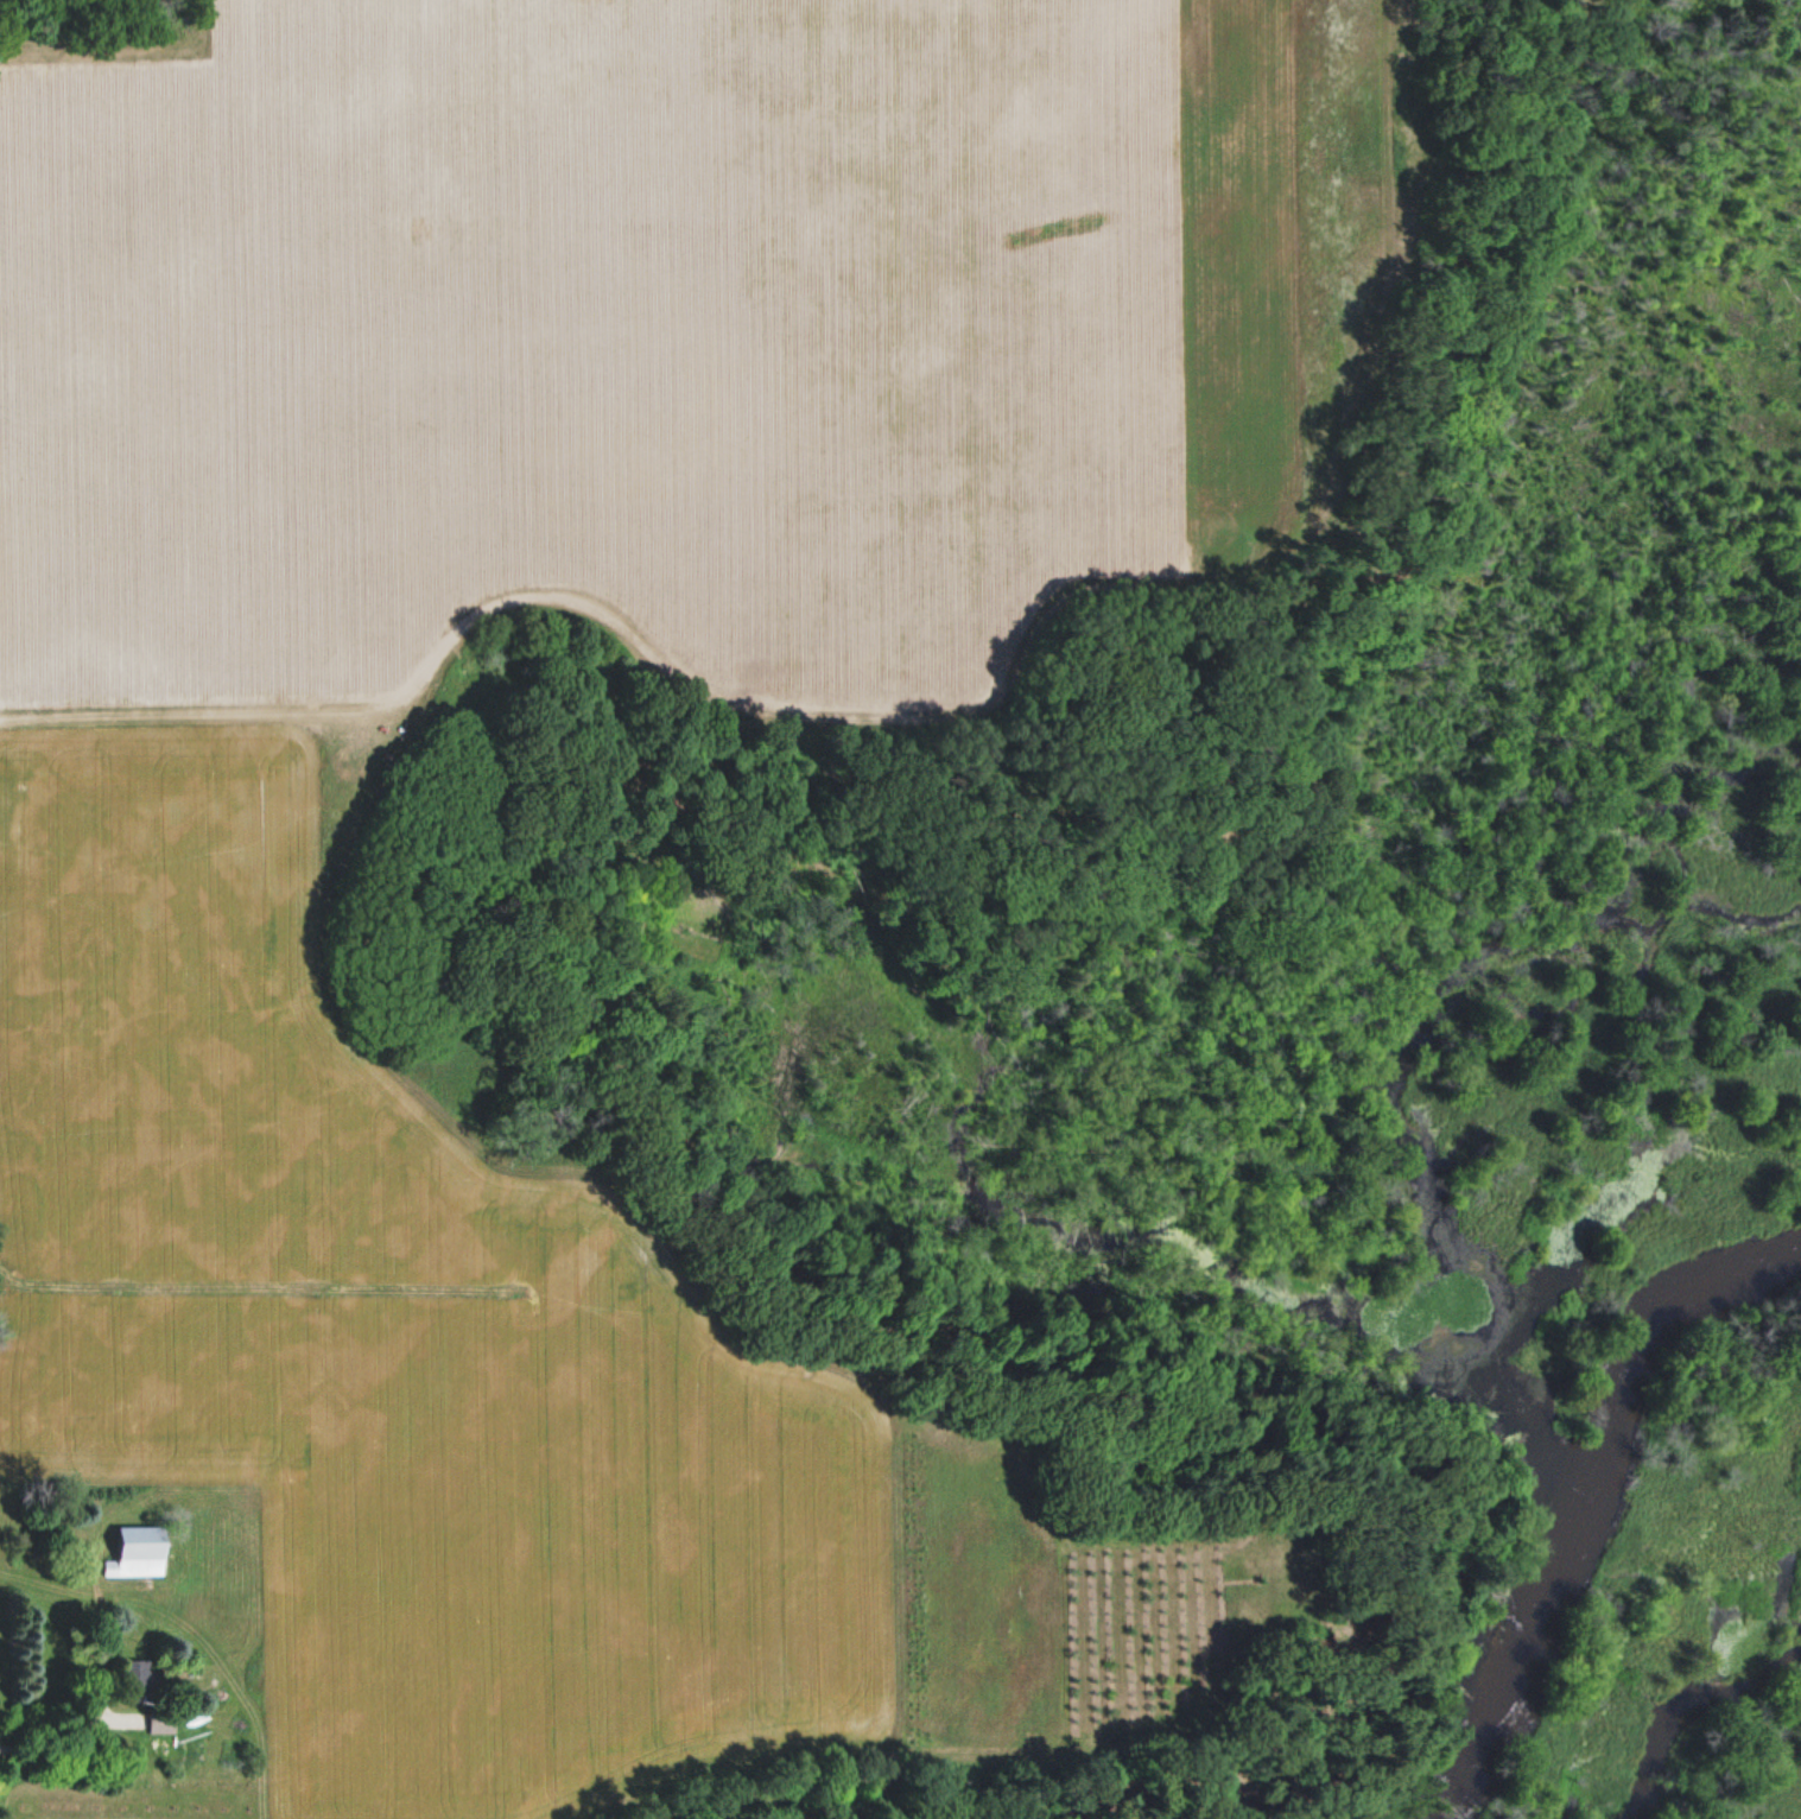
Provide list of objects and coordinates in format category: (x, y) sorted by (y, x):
river: (1586, 1492)
building: (137, 1552)
building: (135, 1681)
building: (160, 1725)

